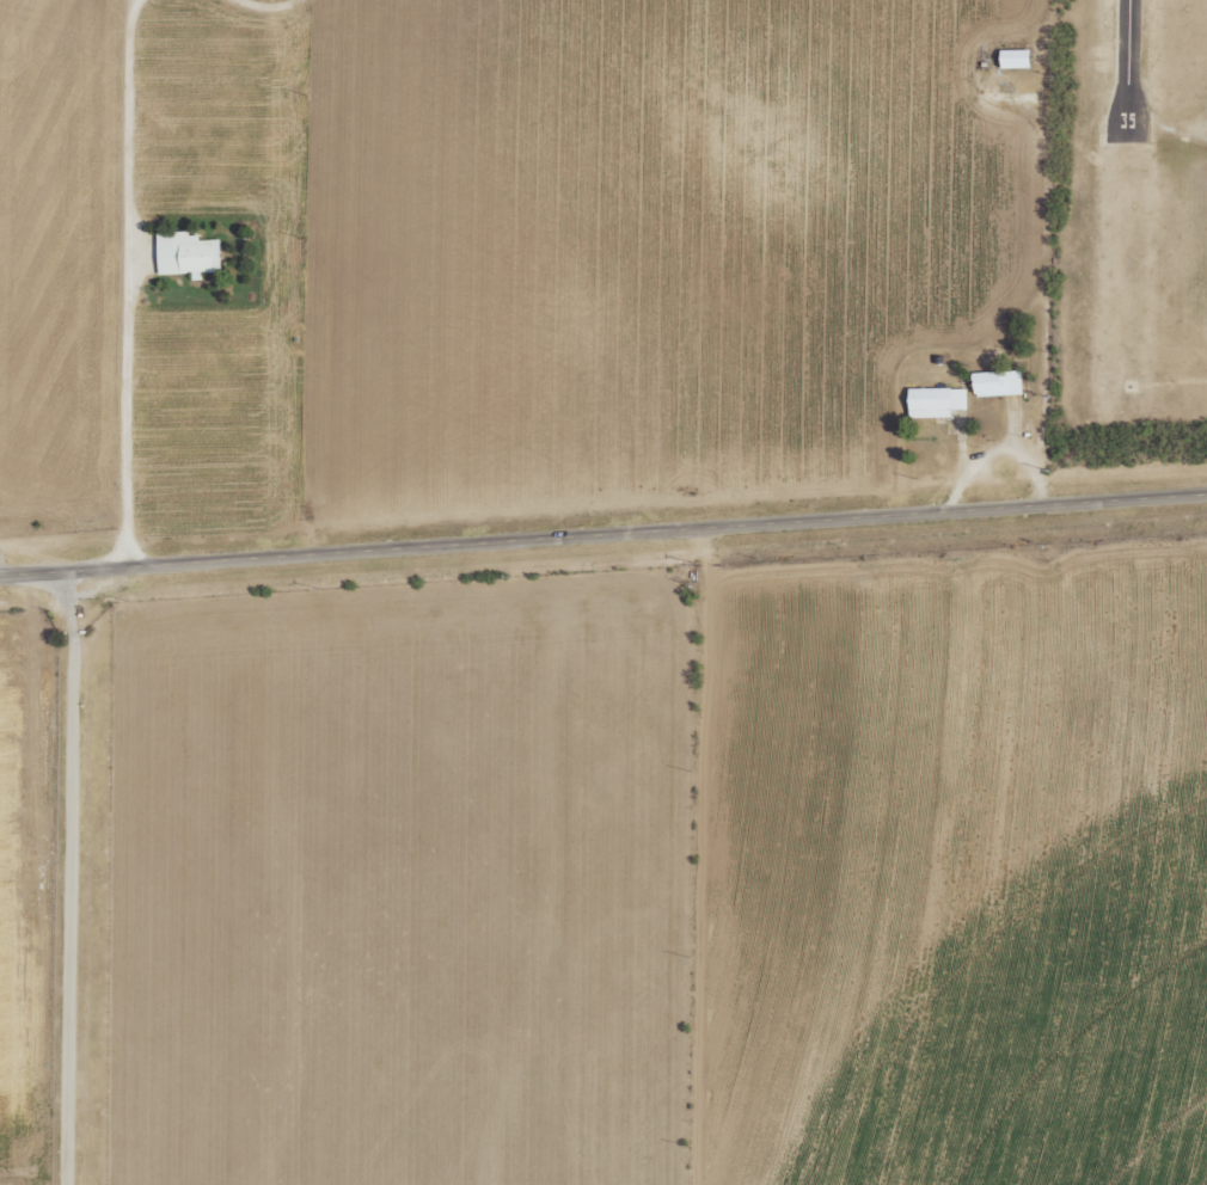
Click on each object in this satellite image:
building: (1013, 59)
airport runway: (1126, 69)
airport: (1127, 215)
building: (188, 254)
building: (995, 383)
building: (935, 401)
railway: (603, 503)
road: (602, 536)
road: (65, 879)

